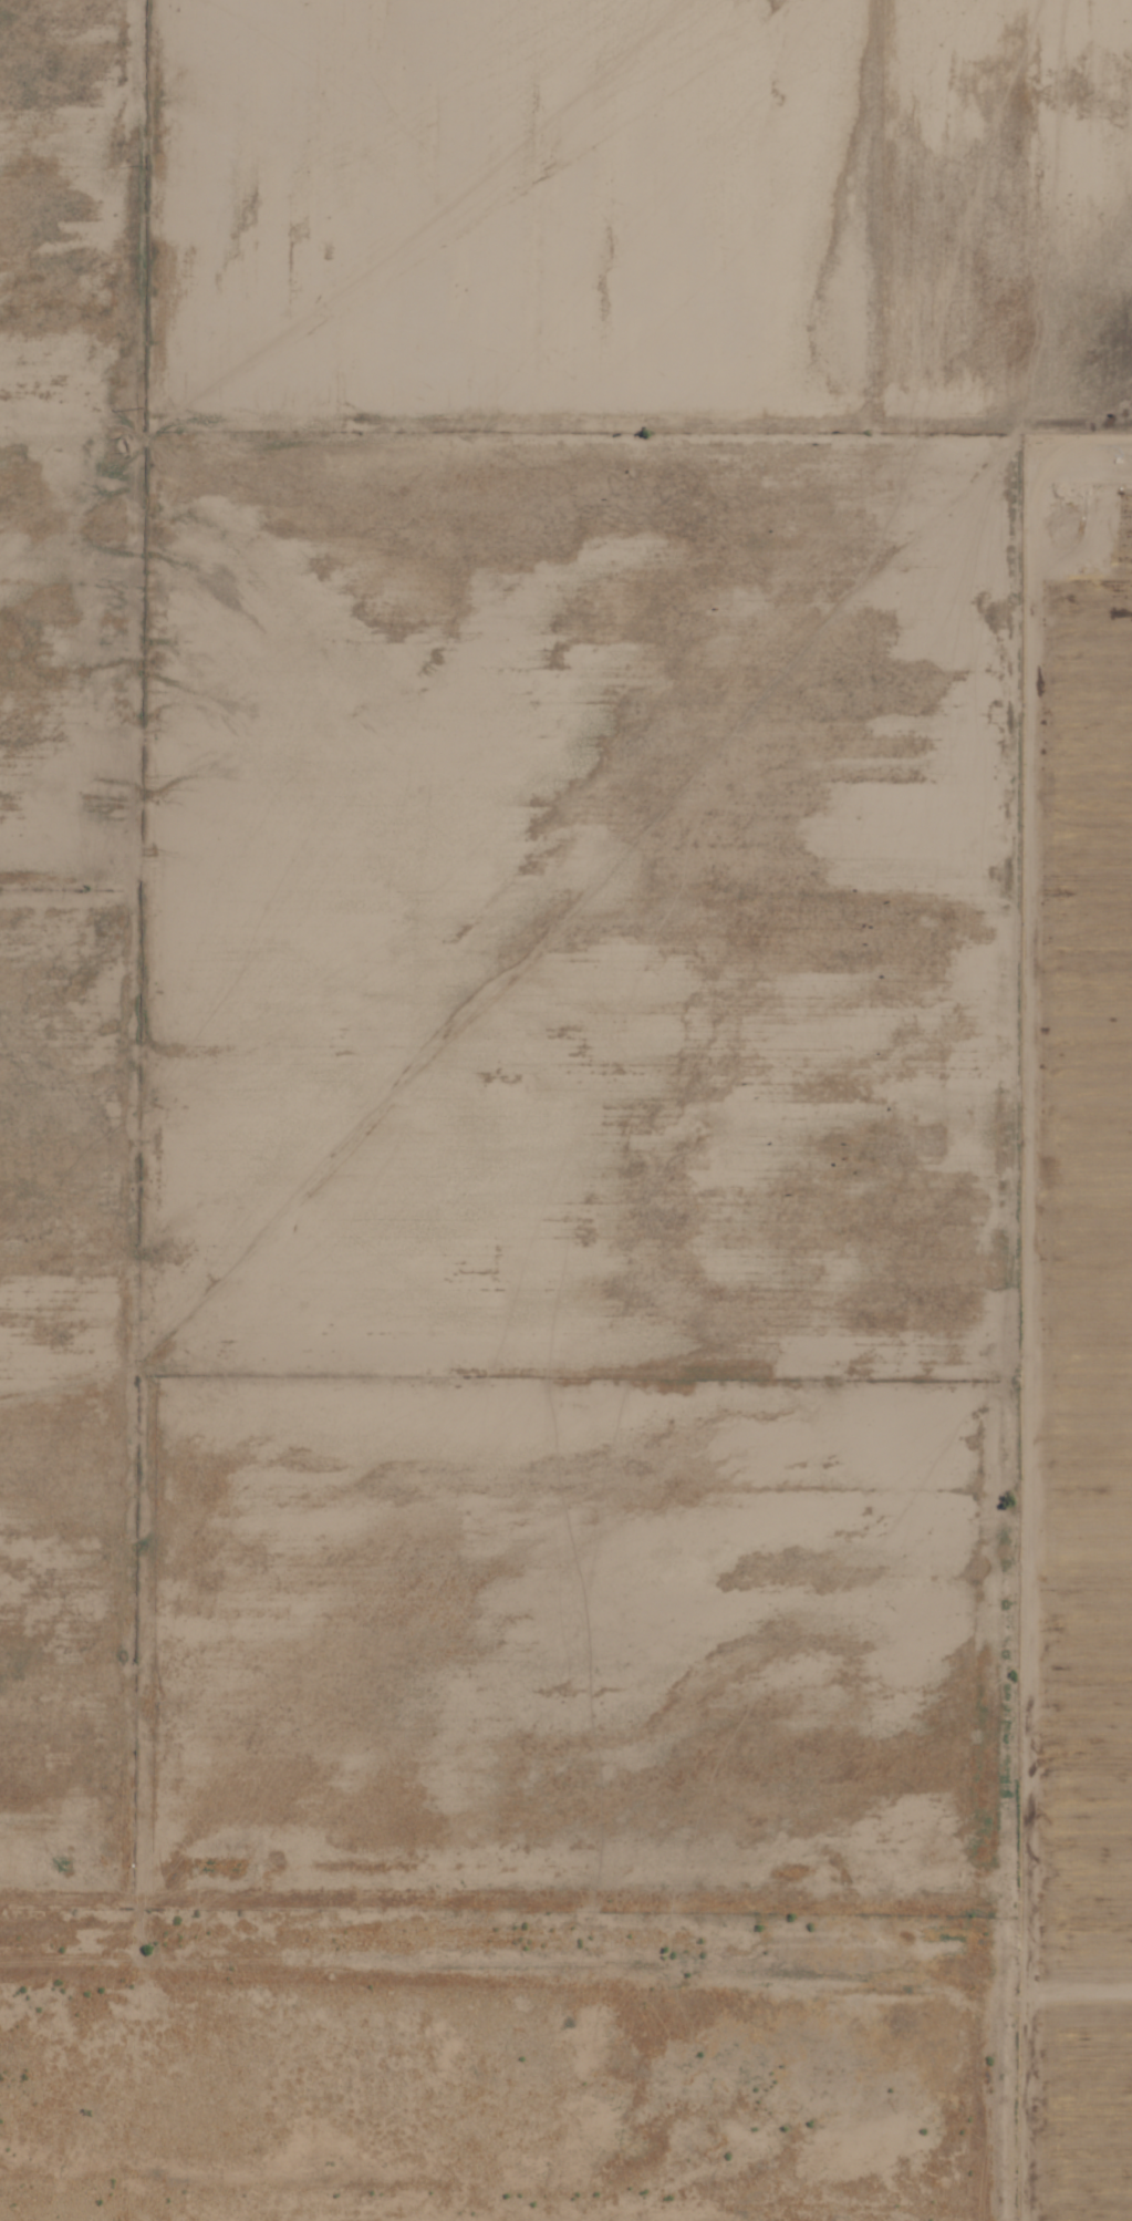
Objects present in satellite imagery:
road: (1011, 2088)

